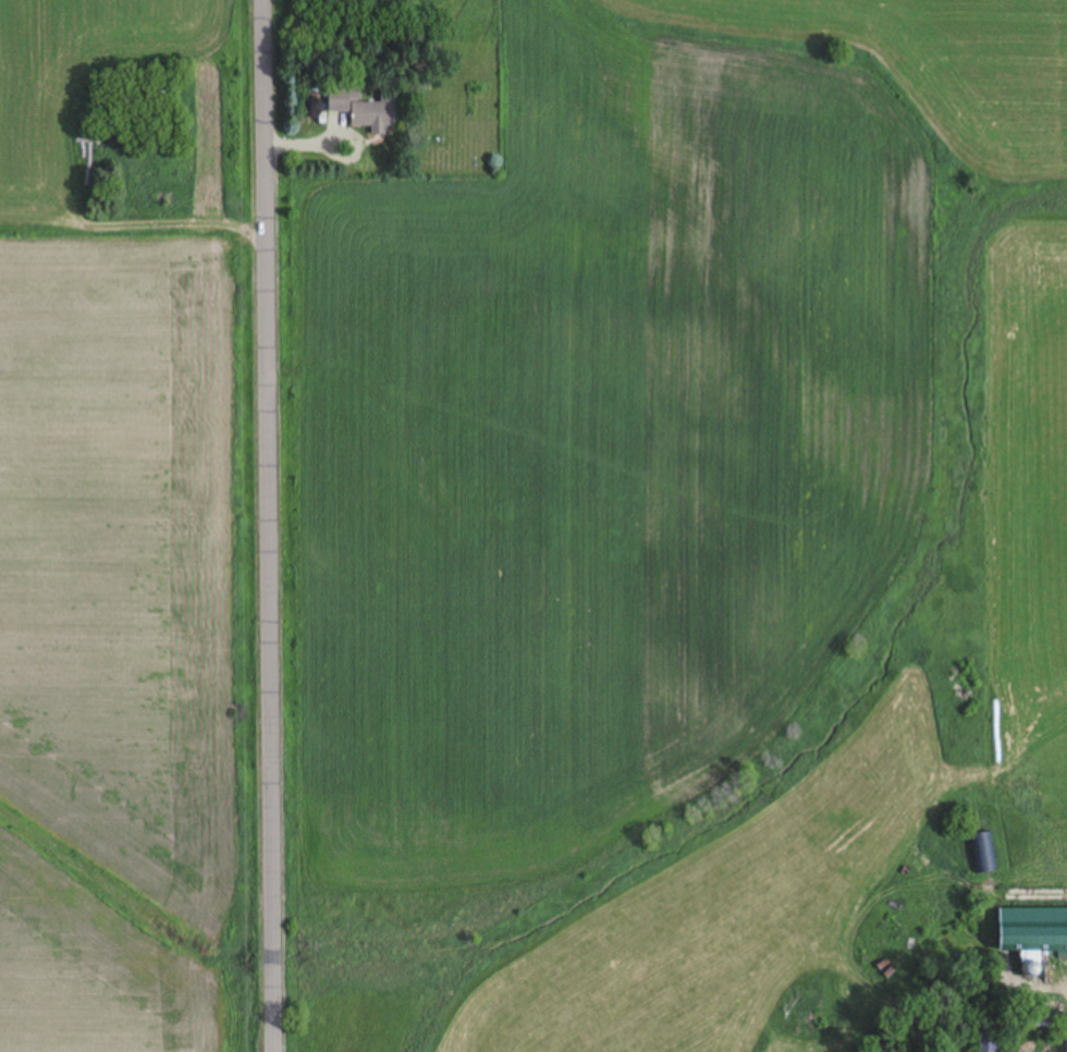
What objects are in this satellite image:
building: (364, 108)
road: (267, 526)
crop: (130, 529)
building: (1033, 929)
building: (990, 1038)

